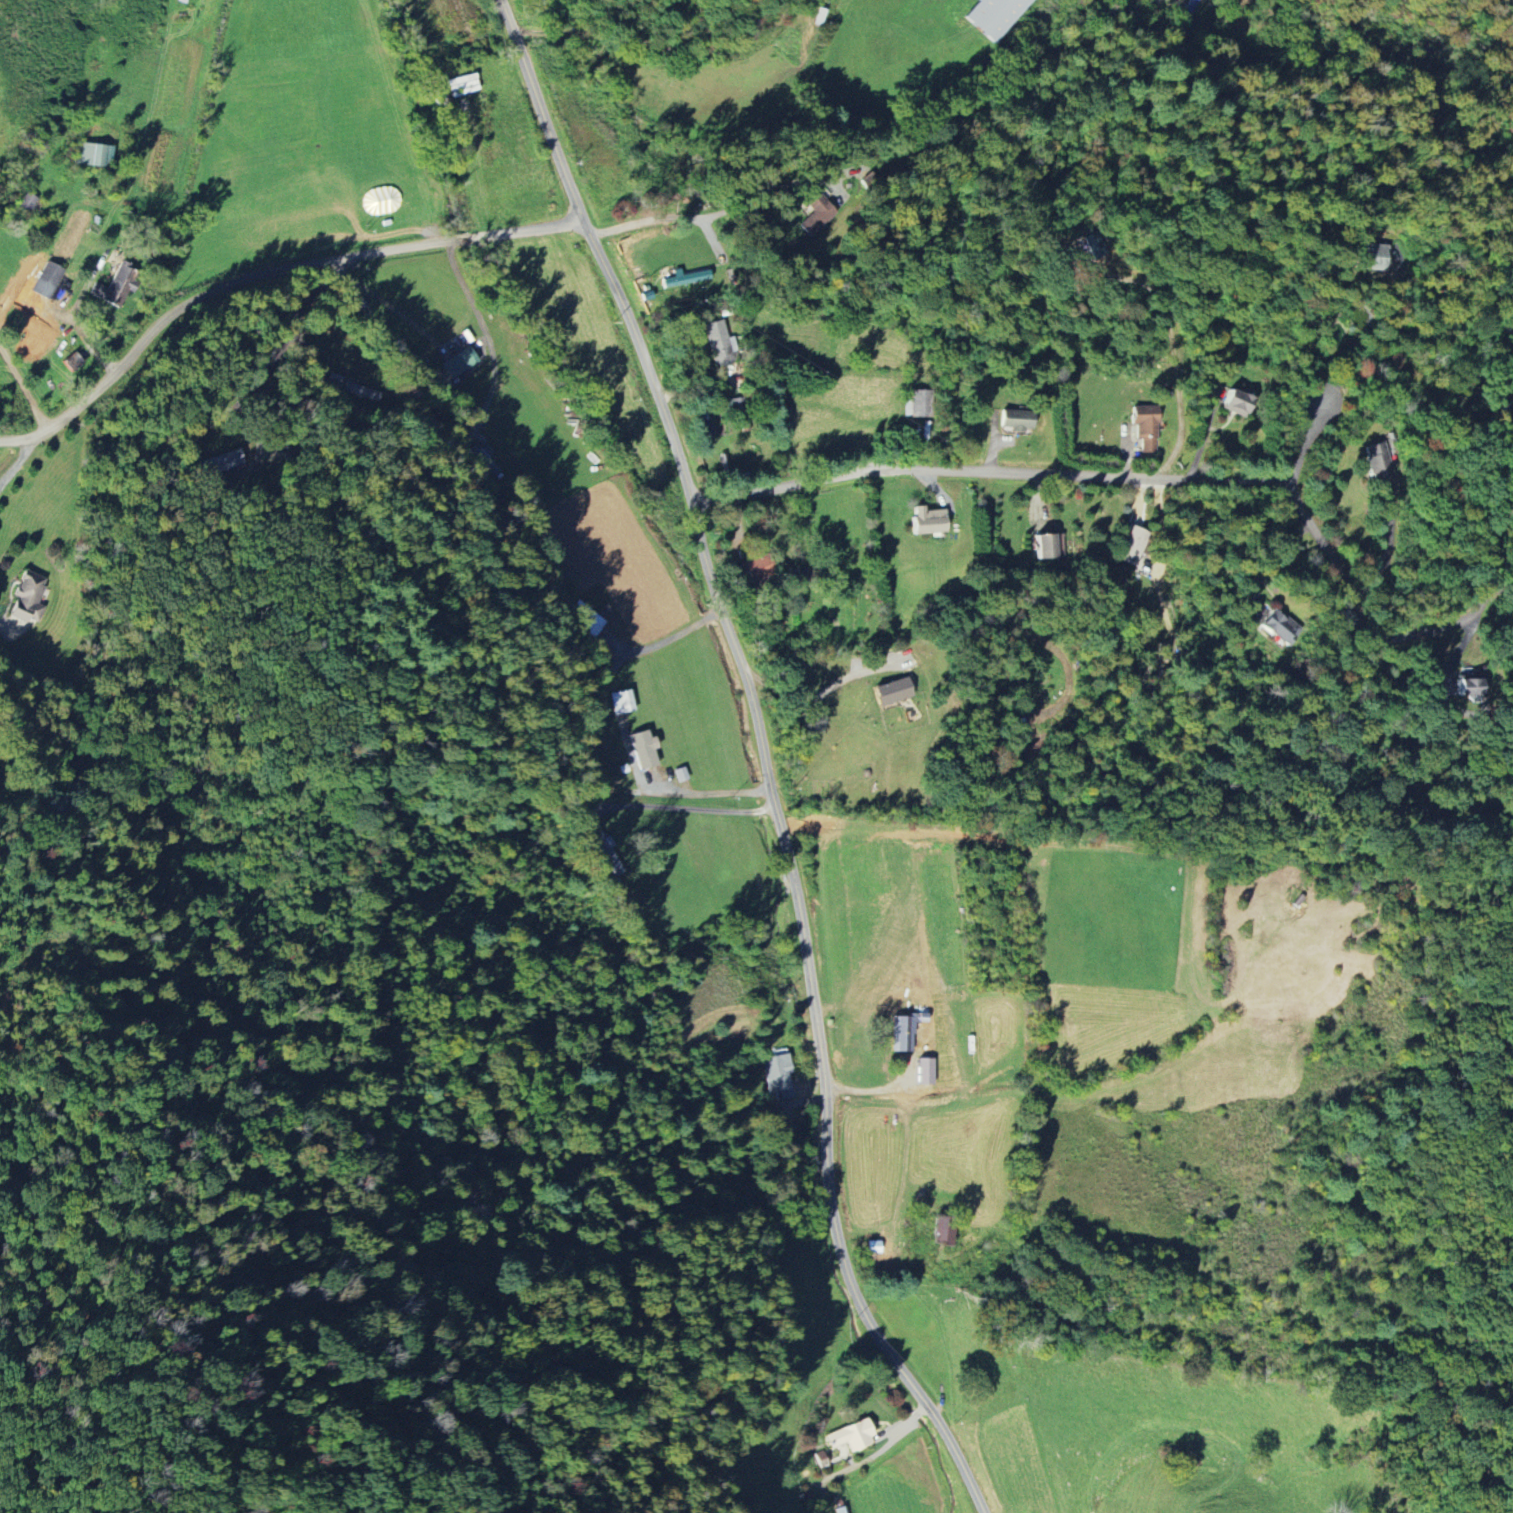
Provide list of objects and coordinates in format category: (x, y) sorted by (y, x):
road: (508, 14)
building: (993, 15)
road: (658, 43)
building: (92, 155)
building: (26, 203)
road: (711, 215)
building: (1092, 245)
building: (1371, 256)
road: (266, 273)
building: (679, 278)
building: (46, 280)
building: (111, 291)
road: (1387, 332)
building: (717, 342)
road: (1172, 352)
building: (458, 361)
building: (71, 362)
building: (333, 380)
road: (23, 388)
building: (361, 391)
road: (246, 396)
building: (1236, 402)
building: (1507, 411)
building: (1016, 420)
building: (1145, 427)
road: (1202, 433)
road: (1308, 436)
road: (22, 454)
building: (485, 458)
building: (220, 462)
road: (1185, 478)
building: (927, 520)
road: (1162, 527)
building: (1048, 545)
building: (1135, 550)
road: (1387, 550)
road: (1273, 562)
building: (757, 567)
road: (1502, 586)
building: (25, 596)
building: (584, 618)
building: (1277, 627)
road: (665, 638)
building: (1469, 687)
building: (892, 690)
road: (808, 699)
building: (621, 701)
building: (642, 748)
road: (768, 773)
building: (680, 774)
road: (705, 793)
road: (679, 807)
building: (608, 853)
building: (908, 1024)
building: (925, 1071)
building: (777, 1074)
building: (942, 1233)
building: (872, 1247)
building: (851, 1436)

